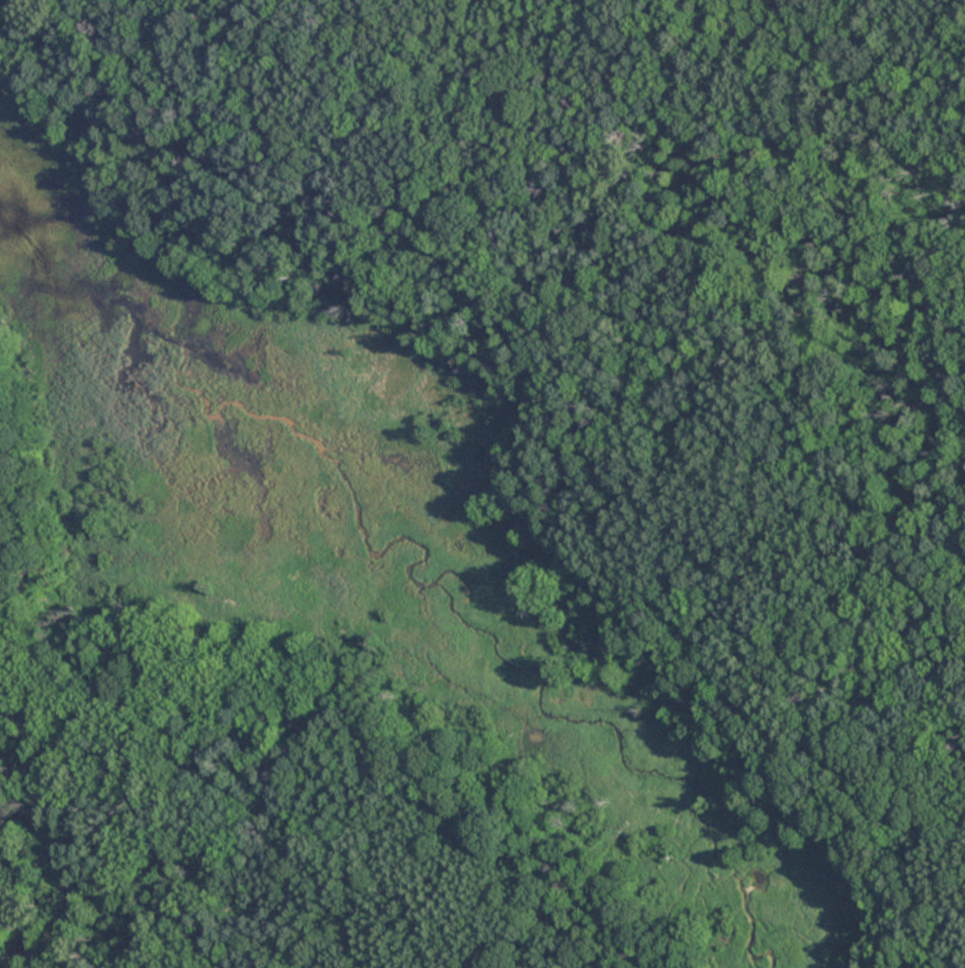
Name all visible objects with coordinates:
park: (482, 484)

